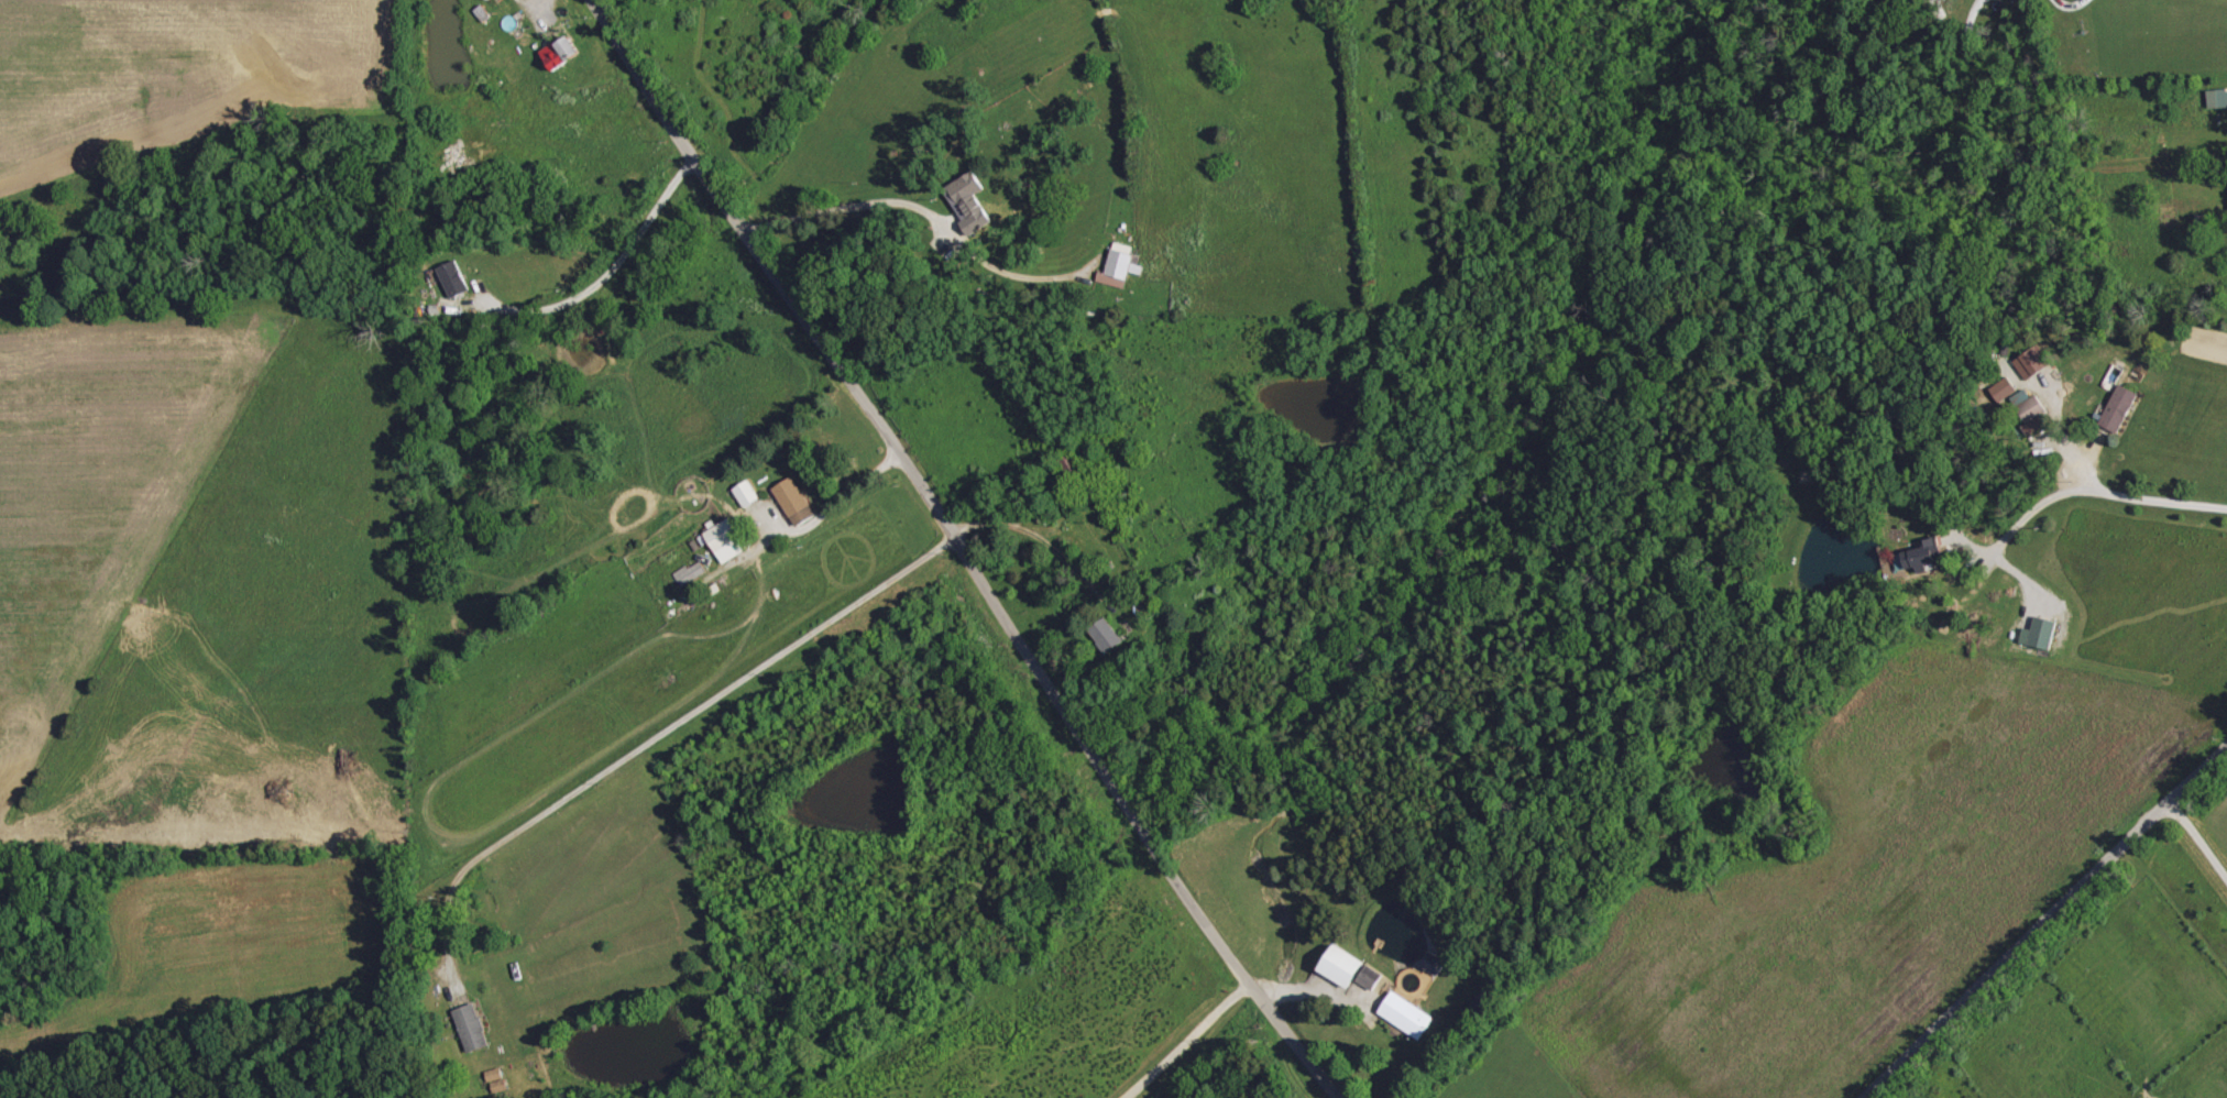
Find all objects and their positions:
road: (551, 22)
building: (559, 53)
building: (2217, 98)
building: (967, 202)
road: (921, 209)
building: (1120, 266)
building: (452, 279)
road: (602, 282)
building: (2032, 363)
building: (2119, 409)
building: (2031, 413)
road: (2095, 491)
building: (745, 494)
building: (793, 502)
road: (815, 503)
building: (724, 541)
road: (965, 548)
road: (1051, 548)
building: (1923, 556)
building: (689, 573)
building: (2040, 634)
building: (1105, 636)
road: (657, 729)
road: (2196, 839)
road: (2042, 919)
building: (1434, 963)
building: (1340, 965)
building: (1369, 976)
building: (1405, 1014)
building: (470, 1026)
road: (1192, 1041)

